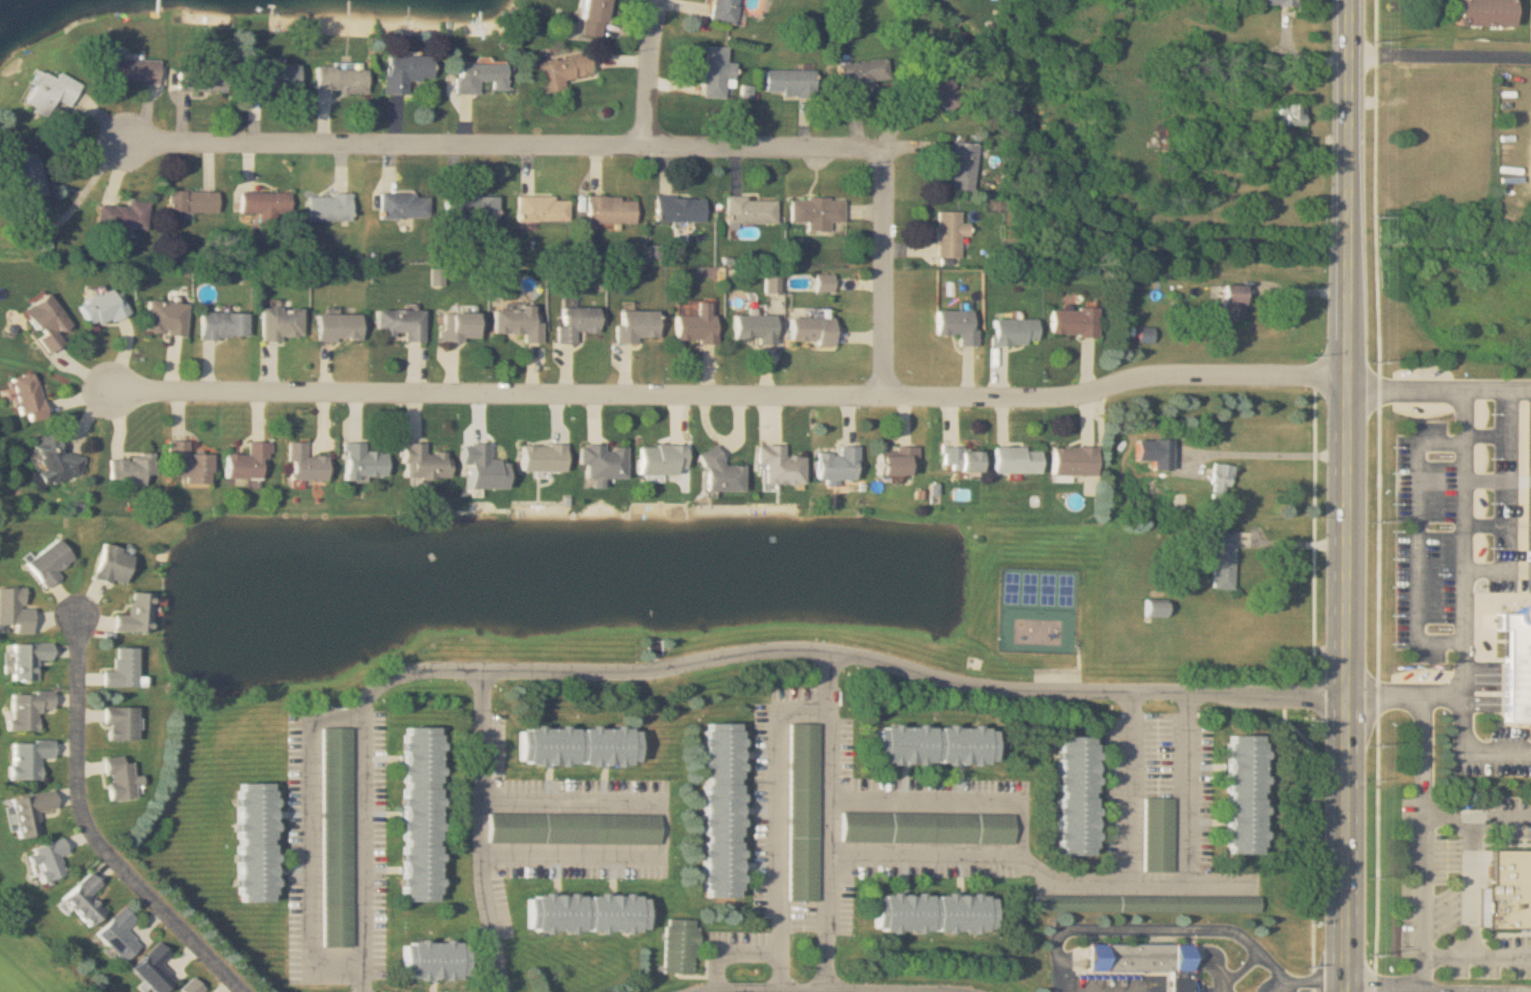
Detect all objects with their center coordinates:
building: (1273, 2)
building: (722, 10)
building: (1480, 12)
building: (592, 18)
road: (1442, 59)
building: (133, 70)
building: (406, 70)
building: (558, 72)
building: (713, 72)
building: (861, 73)
road: (655, 75)
building: (477, 76)
building: (276, 78)
building: (344, 78)
building: (205, 80)
building: (788, 83)
building: (53, 91)
building: (938, 92)
road: (1353, 105)
building: (1288, 114)
road: (503, 147)
building: (961, 166)
building: (32, 177)
building: (195, 201)
building: (269, 205)
building: (404, 205)
building: (468, 206)
building: (333, 207)
building: (541, 208)
building: (677, 208)
building: (608, 209)
building: (749, 210)
building: (814, 212)
building: (126, 217)
building: (947, 234)
road: (864, 280)
building: (1229, 302)
building: (105, 307)
building: (168, 317)
building: (50, 322)
building: (515, 322)
building: (572, 322)
building: (1070, 322)
building: (285, 323)
building: (404, 324)
building: (226, 325)
building: (633, 325)
building: (460, 326)
building: (694, 326)
building: (954, 326)
building: (342, 328)
building: (751, 328)
building: (808, 330)
building: (1011, 332)
road: (732, 389)
road: (1440, 390)
building: (31, 397)
road: (1275, 452)
building: (1150, 453)
building: (539, 457)
building: (656, 459)
building: (957, 459)
building: (57, 460)
building: (1013, 460)
building: (599, 461)
building: (895, 461)
building: (1070, 461)
building: (367, 462)
building: (428, 463)
building: (191, 464)
building: (251, 464)
building: (308, 464)
building: (834, 464)
building: (776, 465)
building: (133, 470)
building: (716, 473)
road: (1514, 480)
building: (1218, 481)
road: (1297, 526)
road: (1421, 542)
road: (1460, 543)
building: (1219, 561)
building: (52, 563)
building: (117, 565)
road: (1495, 571)
park: (1039, 587)
road: (1349, 601)
building: (1153, 609)
building: (140, 614)
building: (31, 659)
building: (1515, 664)
building: (127, 669)
road: (916, 670)
road: (1458, 706)
building: (30, 709)
building: (124, 724)
building: (930, 744)
building: (337, 746)
building: (573, 746)
road: (1422, 754)
building: (31, 758)
building: (122, 779)
road: (364, 780)
road: (1131, 786)
road: (1187, 786)
building: (803, 790)
building: (1239, 795)
building: (1070, 796)
road: (950, 799)
building: (715, 811)
building: (34, 812)
road: (1476, 812)
building: (415, 815)
road: (830, 818)
road: (778, 821)
building: (572, 828)
building: (926, 828)
road: (663, 829)
road: (489, 830)
road: (92, 831)
building: (1157, 834)
building: (261, 843)
road: (313, 846)
building: (50, 860)
road: (1040, 872)
road: (1470, 883)
building: (1507, 889)
building: (88, 899)
building: (1146, 903)
building: (581, 914)
building: (928, 914)
road: (1159, 928)
building: (122, 934)
road: (1420, 939)
building: (677, 946)
building: (1142, 959)
building: (428, 960)
park: (35, 961)
building: (156, 969)
road: (1410, 973)
building: (194, 986)
road: (824, 986)
road: (801, 989)
road: (899, 989)
road: (682, 991)
road: (1306, 991)

